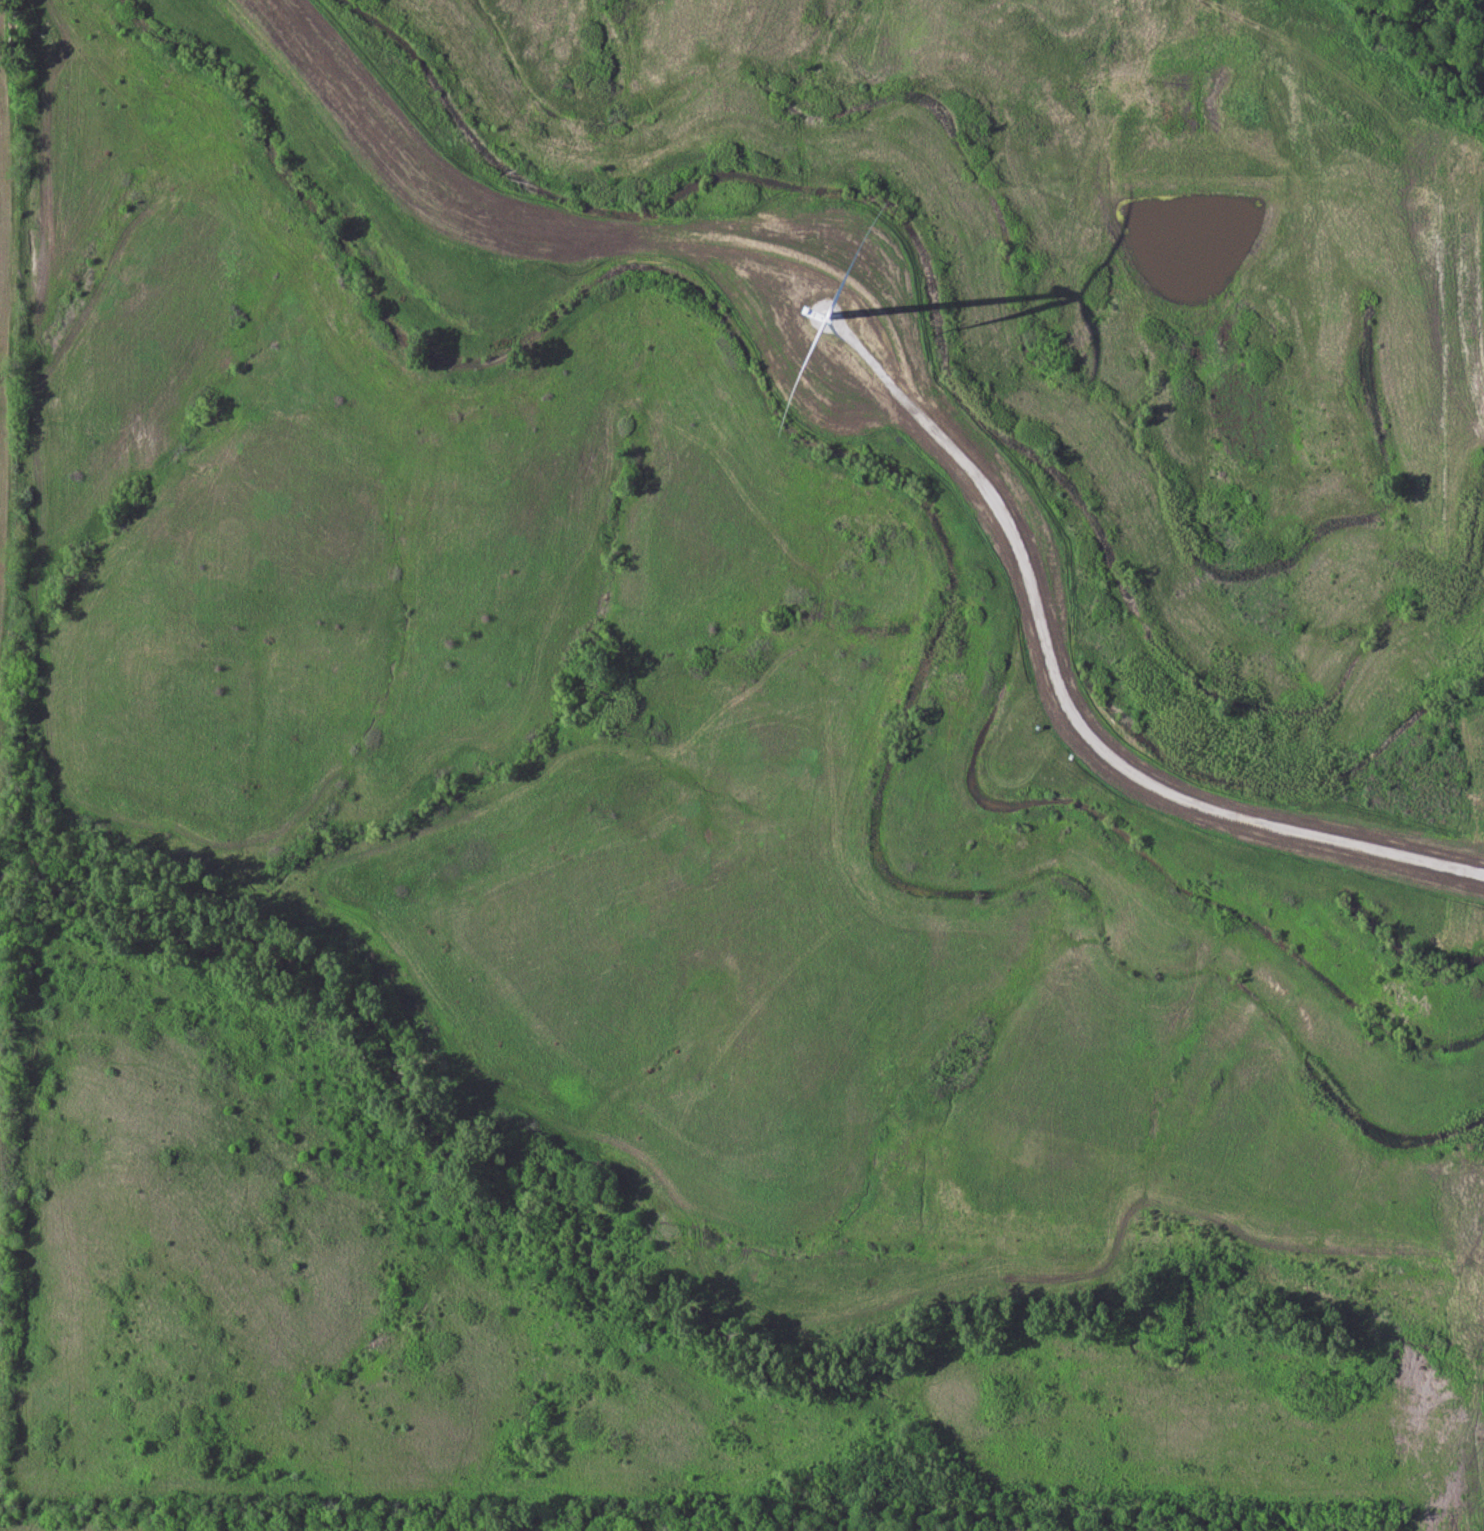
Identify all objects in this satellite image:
wind turbine: (818, 315)

